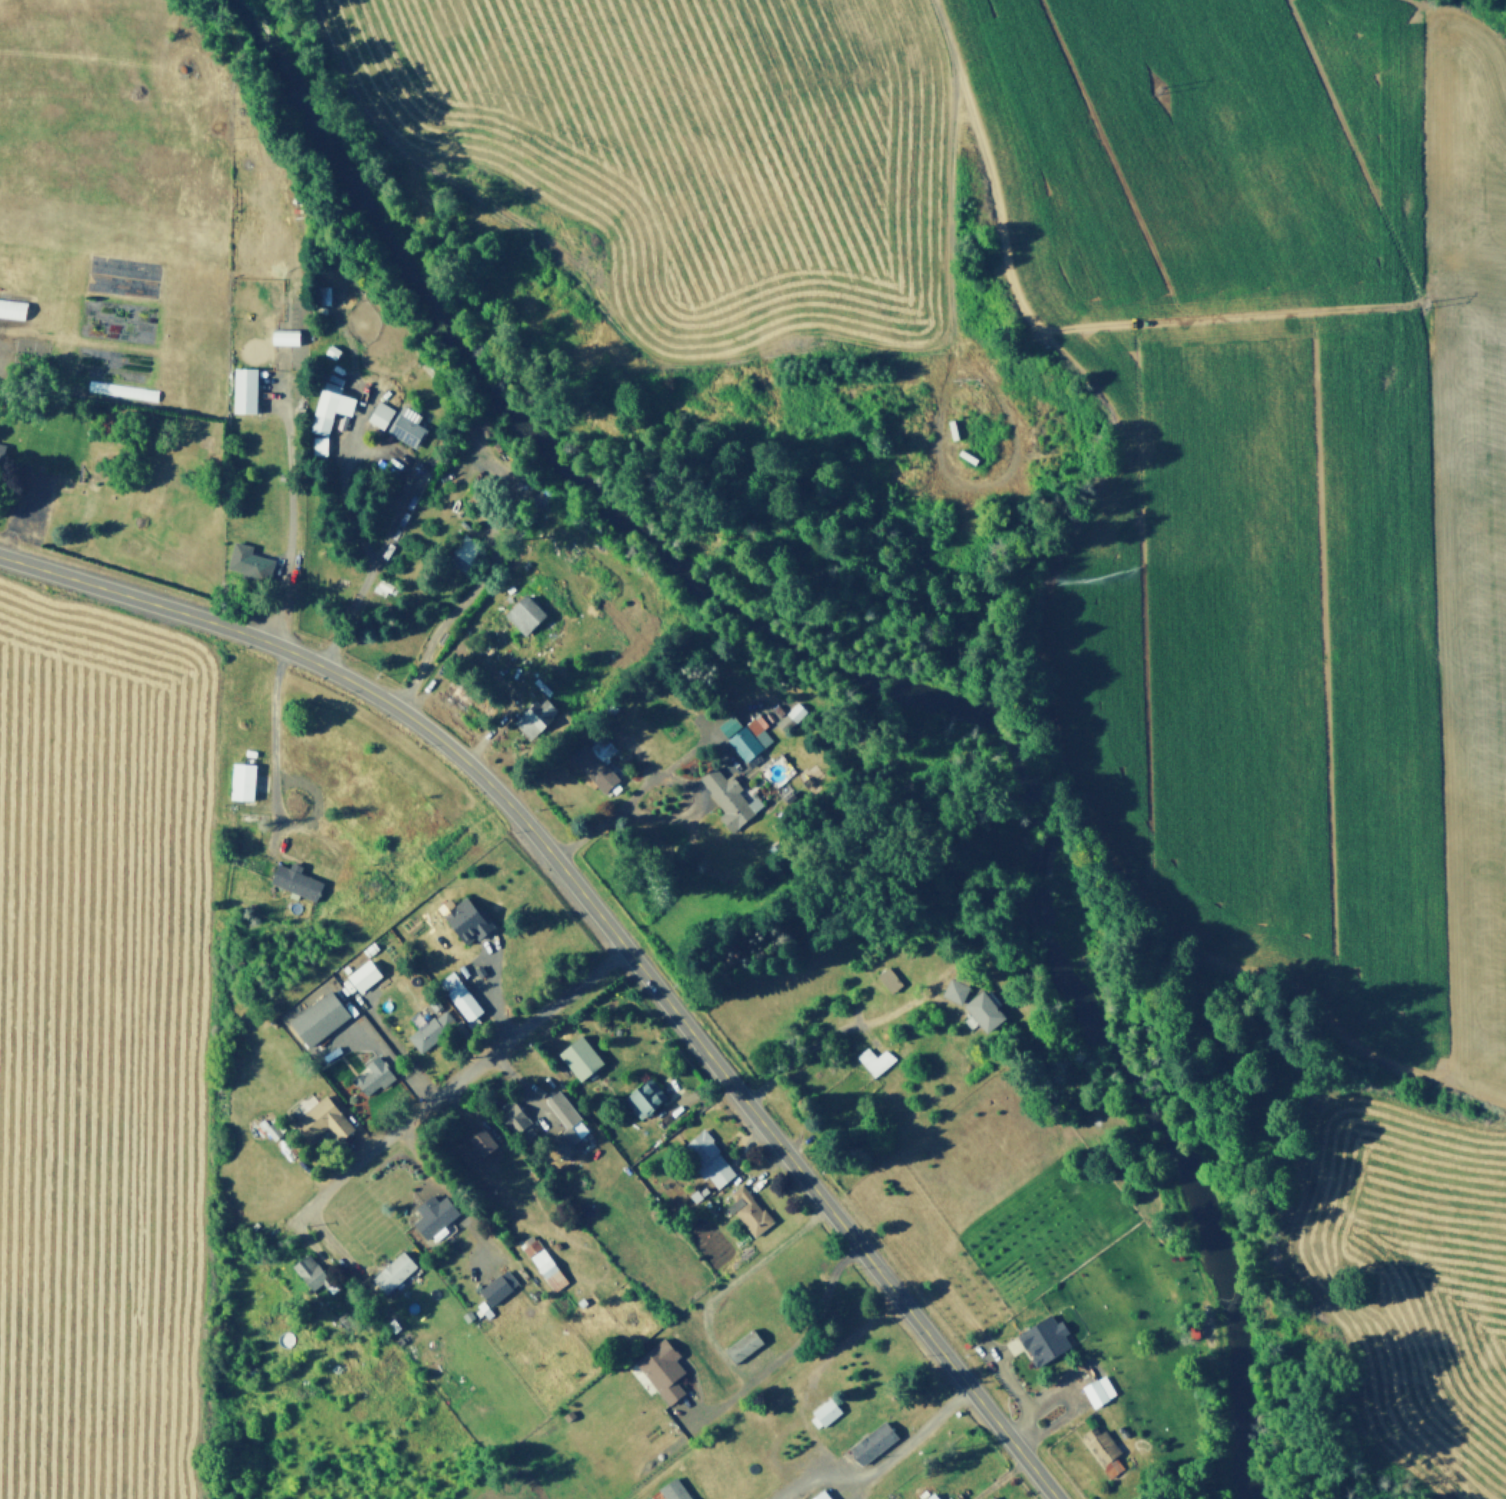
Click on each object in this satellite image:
crop: (680, 153)
road: (950, 156)
building: (322, 295)
building: (9, 311)
building: (289, 331)
building: (327, 352)
building: (427, 363)
building: (353, 371)
building: (247, 384)
building: (123, 389)
building: (299, 394)
building: (332, 396)
building: (374, 415)
road: (353, 416)
building: (322, 420)
building: (405, 427)
building: (319, 443)
building: (0, 449)
building: (356, 463)
building: (416, 465)
building: (486, 477)
crop: (1274, 483)
road: (395, 485)
road: (984, 490)
building: (404, 493)
building: (476, 494)
building: (390, 534)
building: (467, 547)
building: (243, 562)
road: (478, 577)
building: (370, 586)
road: (283, 611)
building: (521, 615)
river: (863, 677)
building: (542, 683)
building: (608, 706)
building: (794, 709)
building: (761, 716)
building: (531, 720)
building: (729, 724)
building: (748, 736)
building: (793, 752)
building: (626, 753)
road: (639, 754)
road: (669, 762)
building: (590, 764)
building: (231, 778)
building: (729, 797)
road: (693, 802)
building: (293, 876)
building: (461, 922)
road: (607, 923)
building: (361, 976)
building: (887, 980)
building: (879, 981)
building: (948, 991)
building: (459, 993)
building: (981, 1012)
building: (315, 1021)
building: (424, 1031)
building: (866, 1043)
crop: (98, 1051)
road: (798, 1052)
building: (580, 1054)
building: (867, 1061)
road: (458, 1075)
building: (367, 1077)
building: (643, 1101)
building: (562, 1106)
building: (511, 1113)
building: (320, 1122)
building: (272, 1128)
building: (563, 1140)
building: (474, 1145)
building: (708, 1155)
building: (703, 1188)
building: (706, 1201)
building: (747, 1207)
building: (711, 1209)
building: (429, 1214)
building: (533, 1247)
building: (305, 1270)
building: (391, 1272)
building: (551, 1272)
crop: (1413, 1277)
building: (490, 1289)
building: (582, 1298)
building: (467, 1314)
road: (812, 1318)
building: (392, 1322)
building: (399, 1337)
building: (998, 1337)
building: (738, 1339)
building: (1039, 1340)
building: (1006, 1349)
road: (808, 1383)
building: (1086, 1385)
building: (669, 1387)
building: (823, 1410)
building: (1122, 1431)
road: (904, 1438)
building: (871, 1439)
building: (1104, 1447)
road: (822, 1448)
building: (752, 1455)
road: (809, 1474)
building: (674, 1489)
building: (820, 1494)
building: (930, 1495)
crop: (601, 1497)
building: (992, 1497)
building: (985, 1498)

